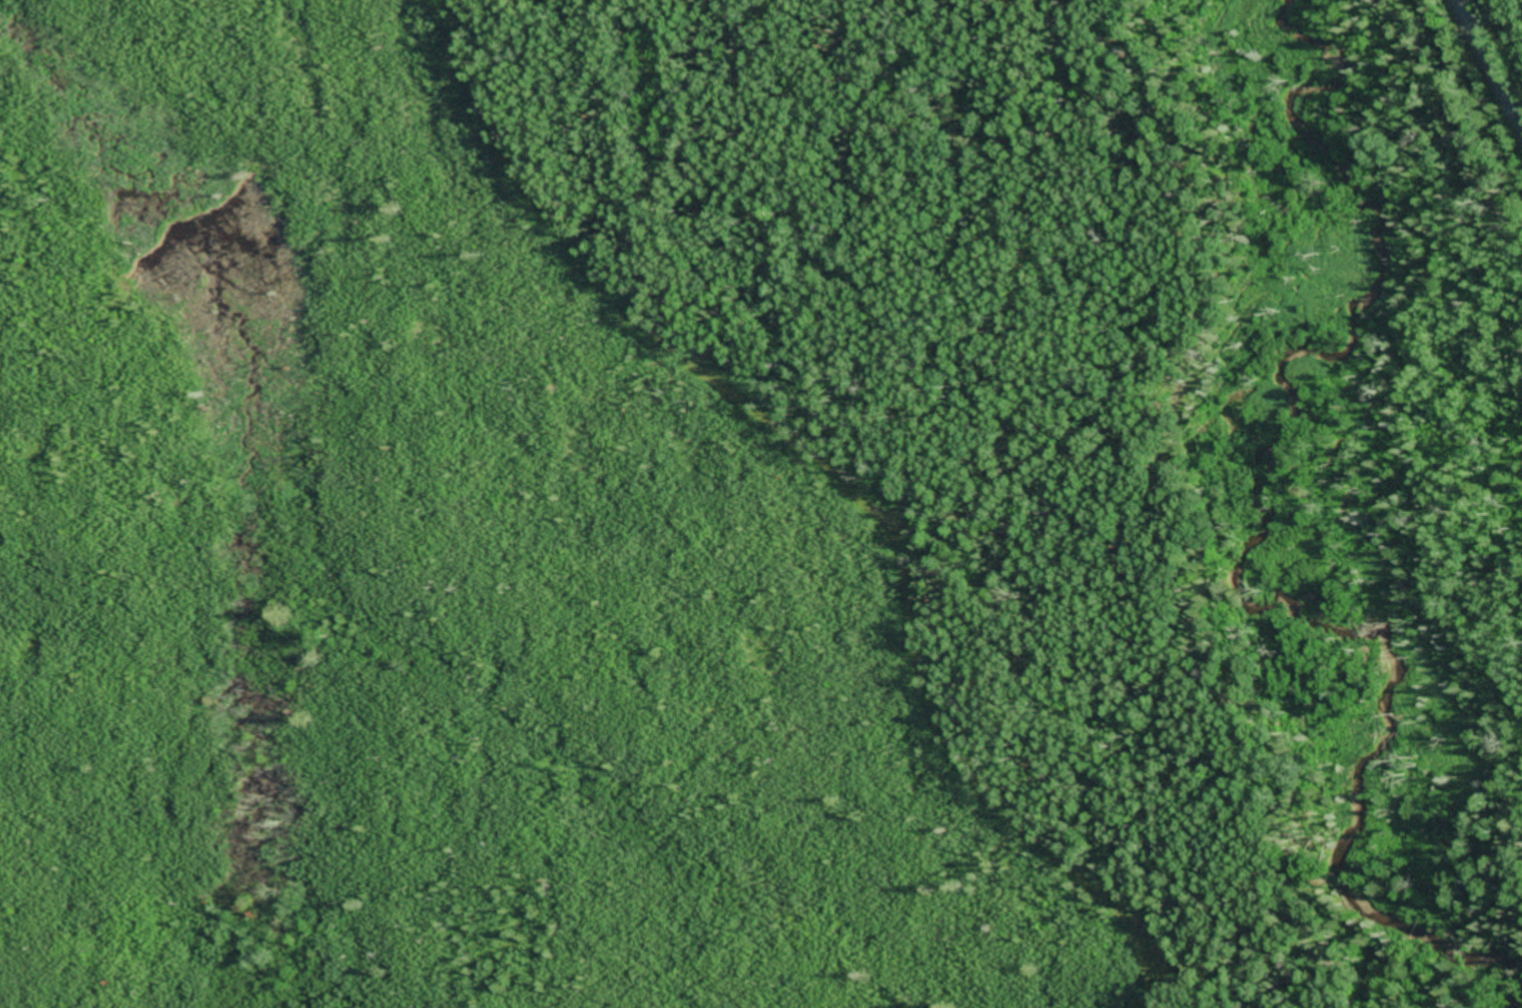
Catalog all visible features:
road: (1509, 26)

